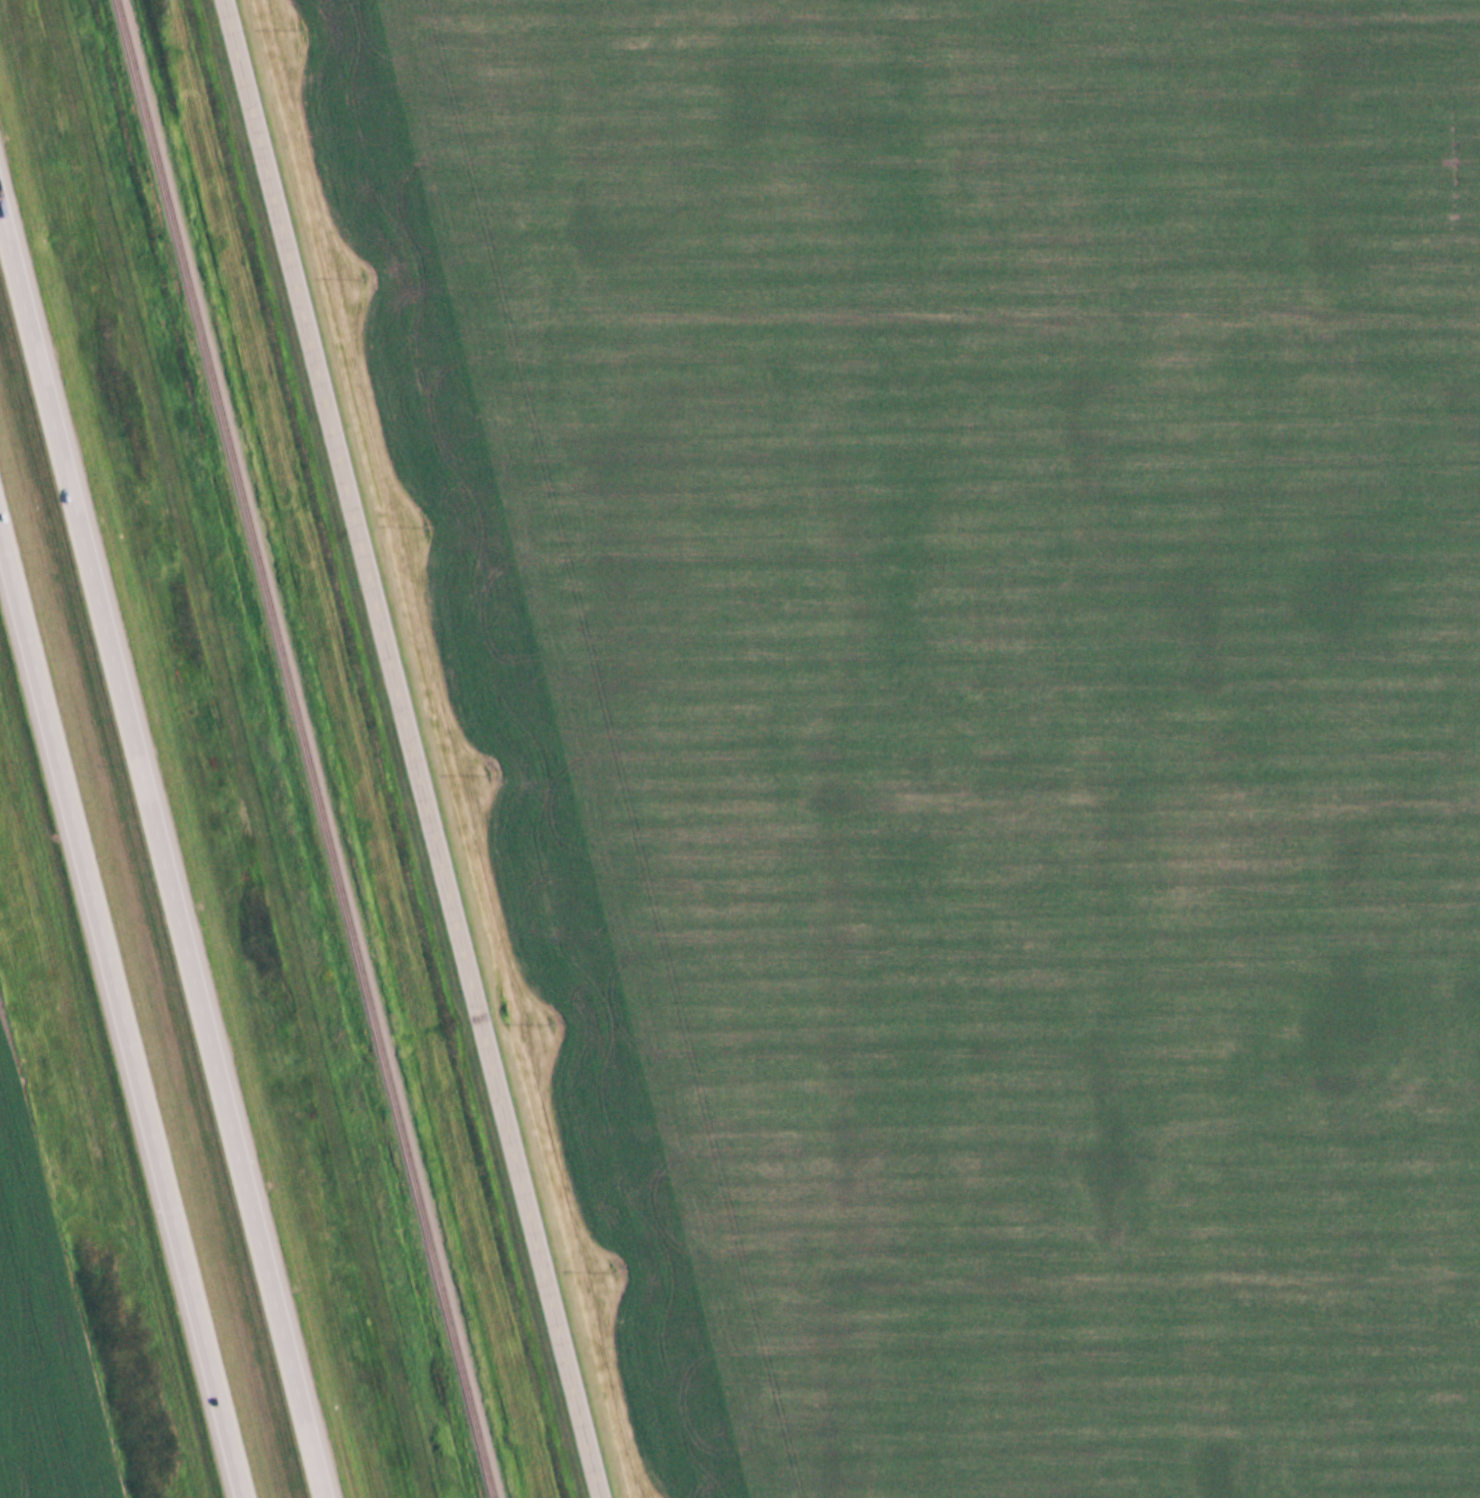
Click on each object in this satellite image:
crop: (970, 702)
road: (414, 748)
railway: (303, 749)
road: (160, 855)
road: (122, 1017)
crop: (47, 1319)

